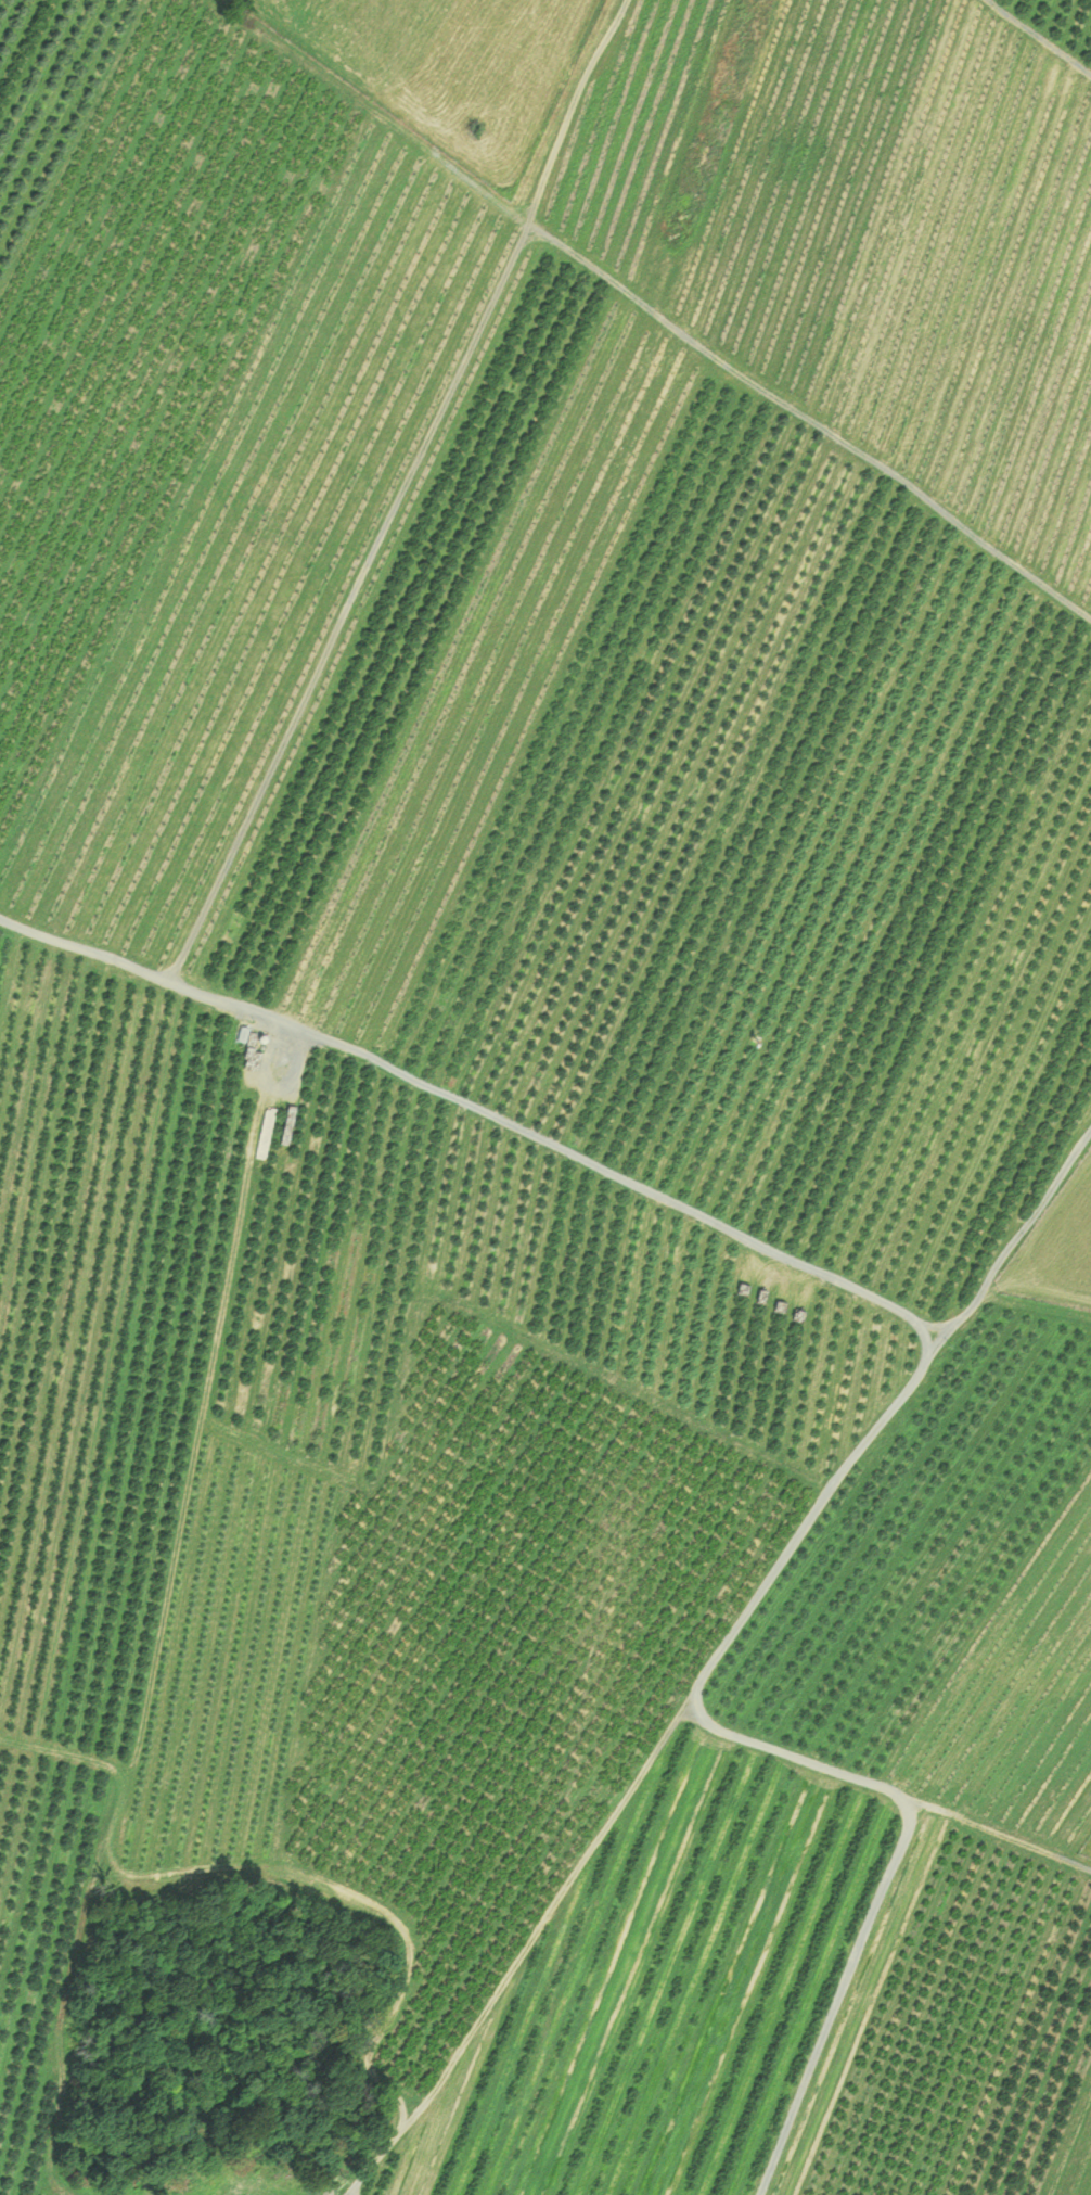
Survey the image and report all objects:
road: (912, 1367)

